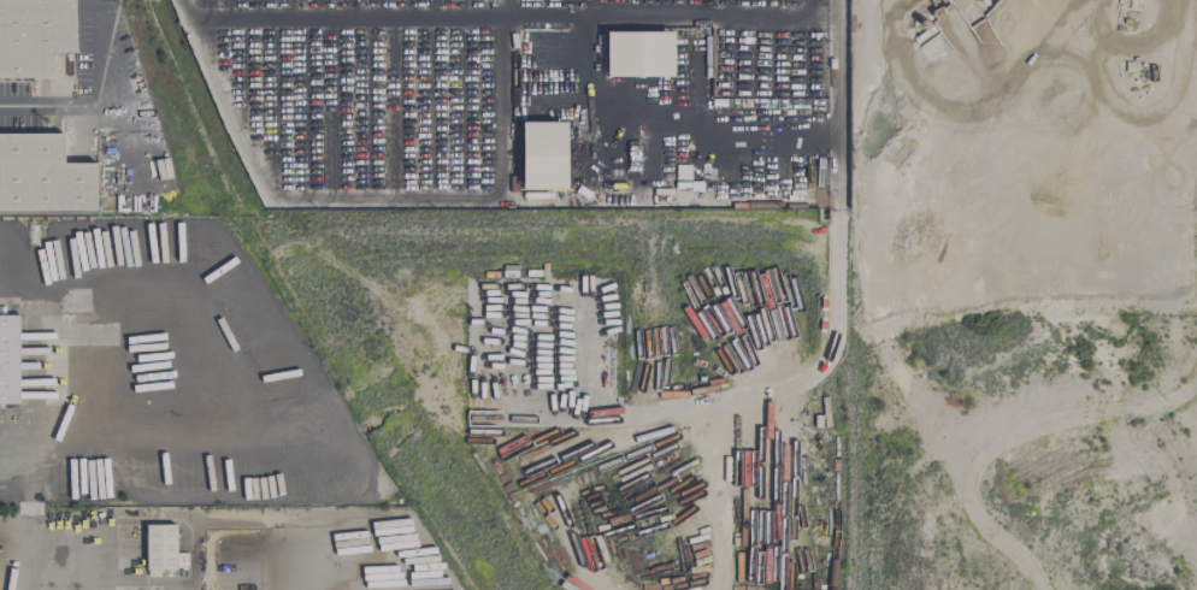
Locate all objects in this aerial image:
road: (349, 17)
building: (34, 36)
building: (638, 54)
road: (102, 105)
road: (125, 144)
building: (542, 155)
building: (42, 177)
road: (379, 197)
road: (176, 290)
road: (13, 296)
building: (8, 350)
road: (126, 399)
road: (47, 465)
road: (129, 521)
road: (276, 521)
building: (159, 547)

